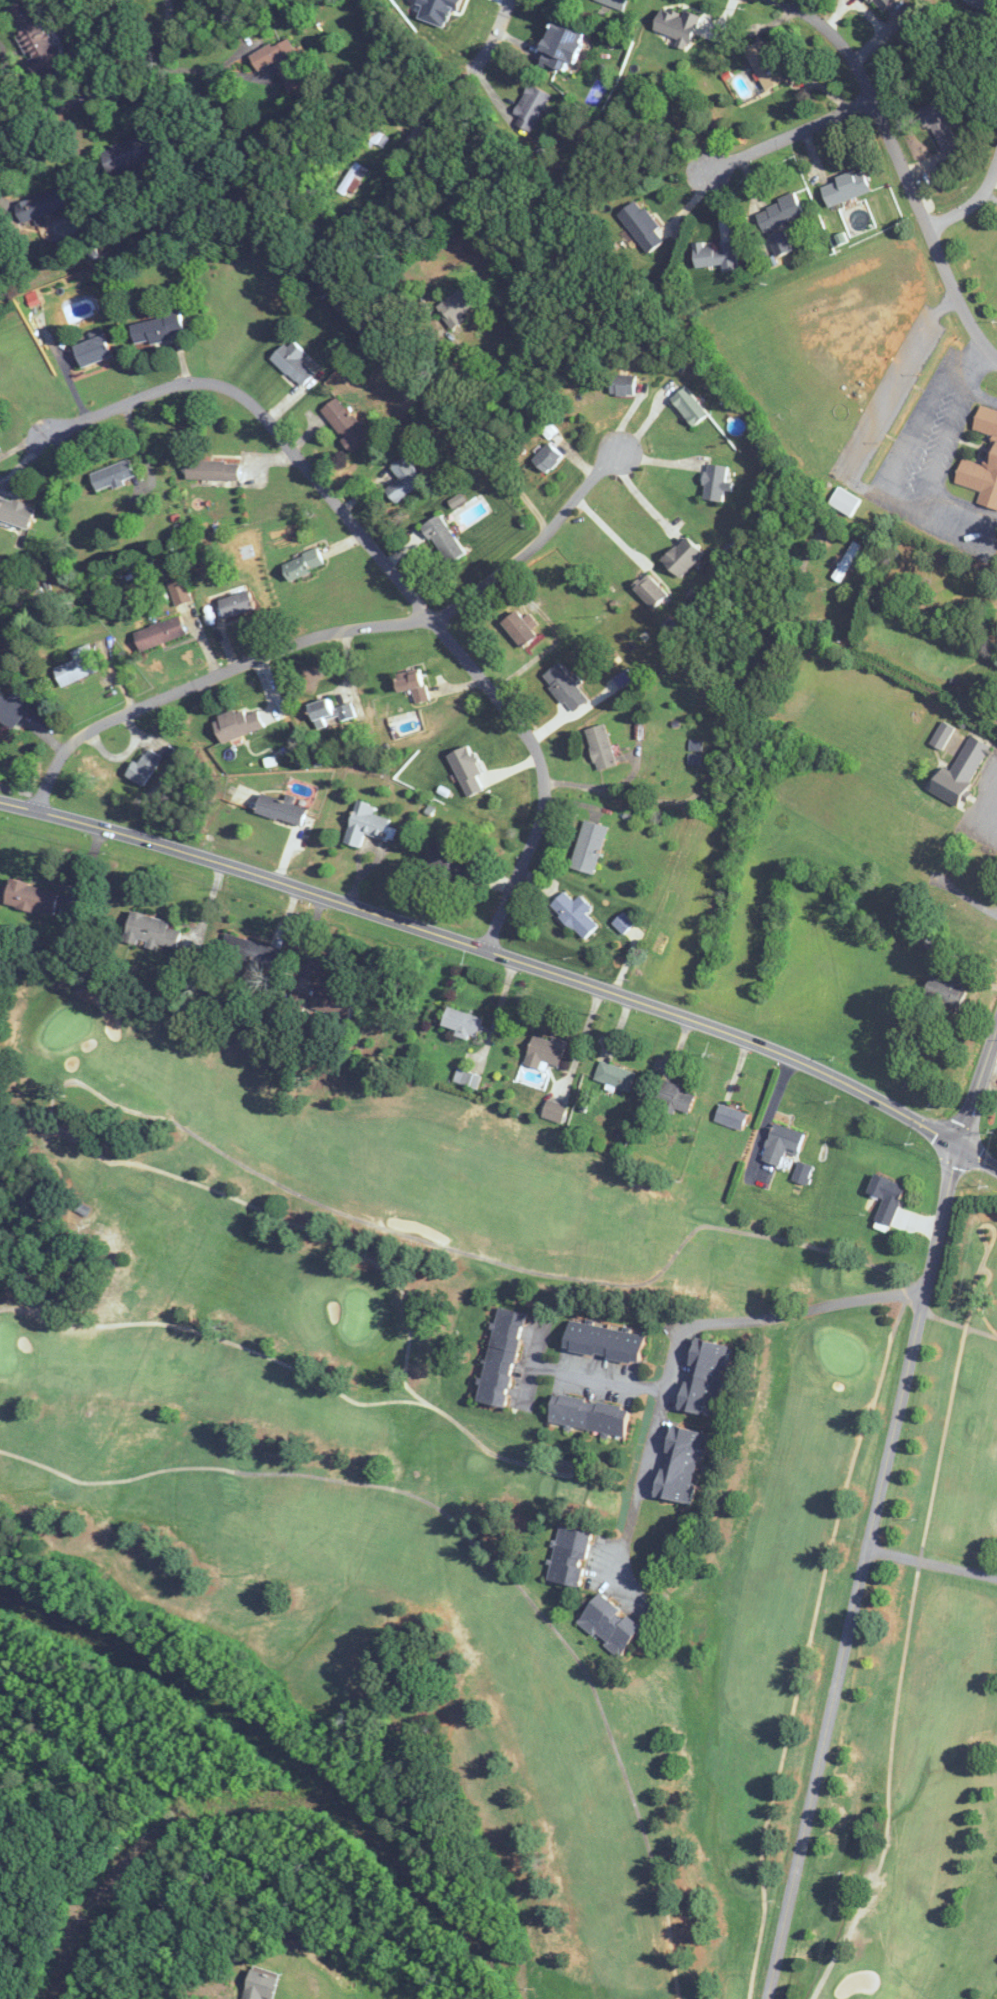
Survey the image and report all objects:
building: (614, 3)
building: (984, 3)
building: (677, 26)
building: (34, 38)
road: (492, 43)
building: (560, 49)
road: (263, 57)
road: (141, 59)
building: (283, 63)
building: (764, 65)
road: (171, 70)
road: (246, 75)
building: (530, 107)
road: (41, 111)
road: (424, 119)
building: (938, 122)
road: (788, 136)
building: (133, 150)
road: (902, 168)
building: (352, 180)
building: (845, 188)
road: (970, 204)
building: (40, 205)
building: (779, 213)
building: (642, 225)
building: (780, 243)
building: (716, 255)
building: (455, 307)
building: (158, 329)
building: (92, 350)
building: (293, 363)
building: (622, 383)
road: (978, 390)
building: (689, 405)
road: (879, 413)
building: (345, 423)
road: (499, 432)
road: (21, 446)
building: (993, 446)
building: (547, 457)
road: (927, 466)
building: (212, 469)
building: (112, 475)
building: (405, 477)
building: (714, 481)
road: (641, 497)
building: (844, 501)
building: (15, 512)
road: (608, 530)
building: (443, 539)
road: (533, 543)
building: (682, 557)
building: (303, 563)
building: (846, 563)
road: (391, 568)
building: (650, 590)
building: (178, 591)
building: (236, 603)
building: (519, 628)
building: (160, 633)
building: (77, 666)
road: (210, 679)
building: (412, 686)
building: (566, 687)
building: (9, 713)
building: (330, 713)
building: (996, 714)
building: (238, 724)
building: (942, 735)
building: (647, 736)
road: (735, 737)
building: (600, 746)
building: (970, 758)
building: (144, 766)
building: (281, 808)
road: (993, 822)
building: (368, 824)
building: (589, 846)
building: (940, 849)
building: (447, 863)
building: (31, 897)
building: (575, 913)
building: (623, 922)
building: (150, 930)
building: (251, 950)
road: (508, 958)
building: (945, 991)
building: (332, 1001)
building: (462, 1023)
building: (545, 1052)
building: (615, 1076)
building: (467, 1078)
building: (675, 1096)
road: (767, 1110)
building: (554, 1111)
building: (731, 1116)
traffic signals: (957, 1142)
building: (781, 1144)
building: (886, 1198)
building: (83, 1209)
road: (821, 1306)
building: (603, 1341)
building: (501, 1357)
road: (598, 1374)
building: (704, 1378)
building: (588, 1414)
road: (656, 1418)
building: (679, 1464)
park: (520, 1507)
road: (874, 1509)
building: (569, 1556)
road: (931, 1562)
building: (609, 1625)
building: (261, 1984)

